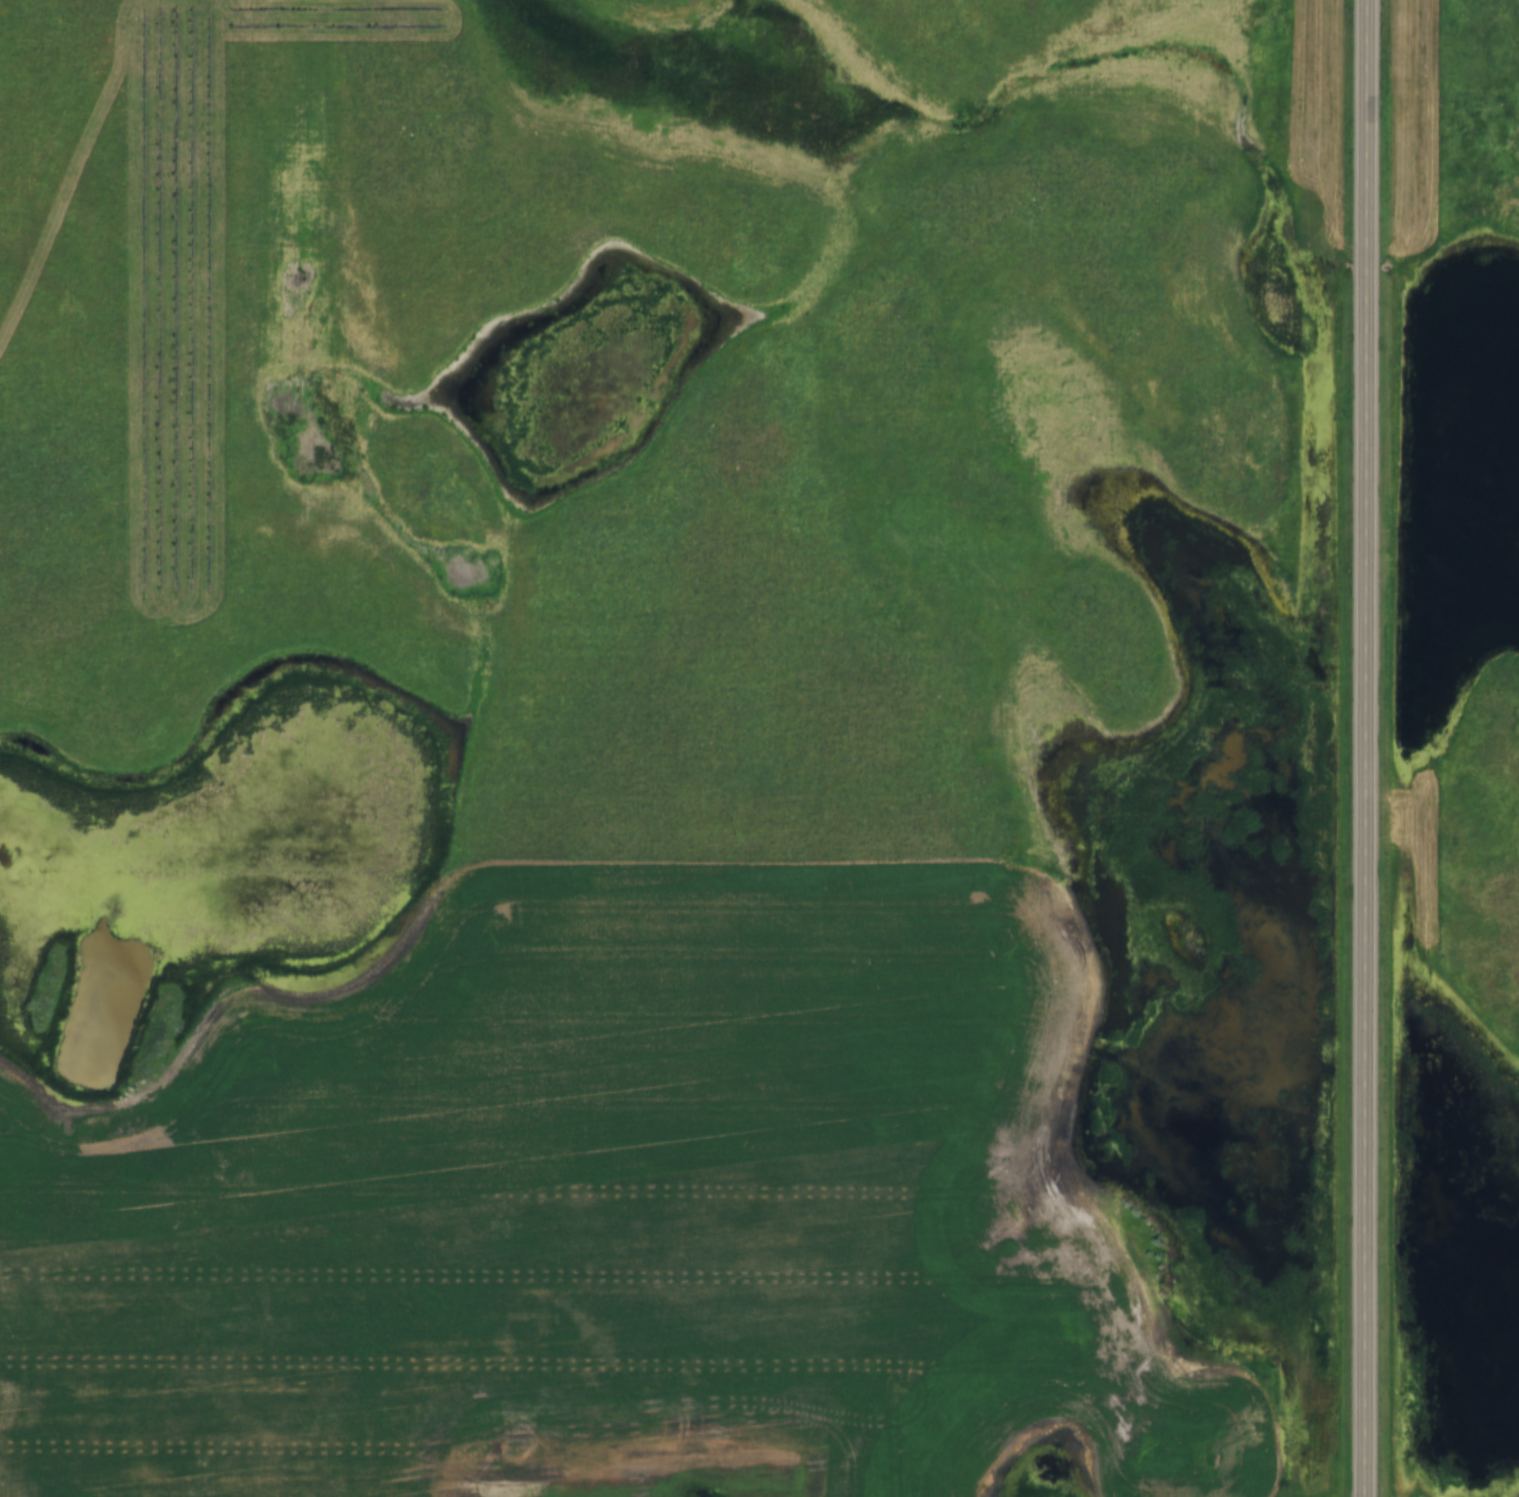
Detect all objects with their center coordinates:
road: (1371, 748)

